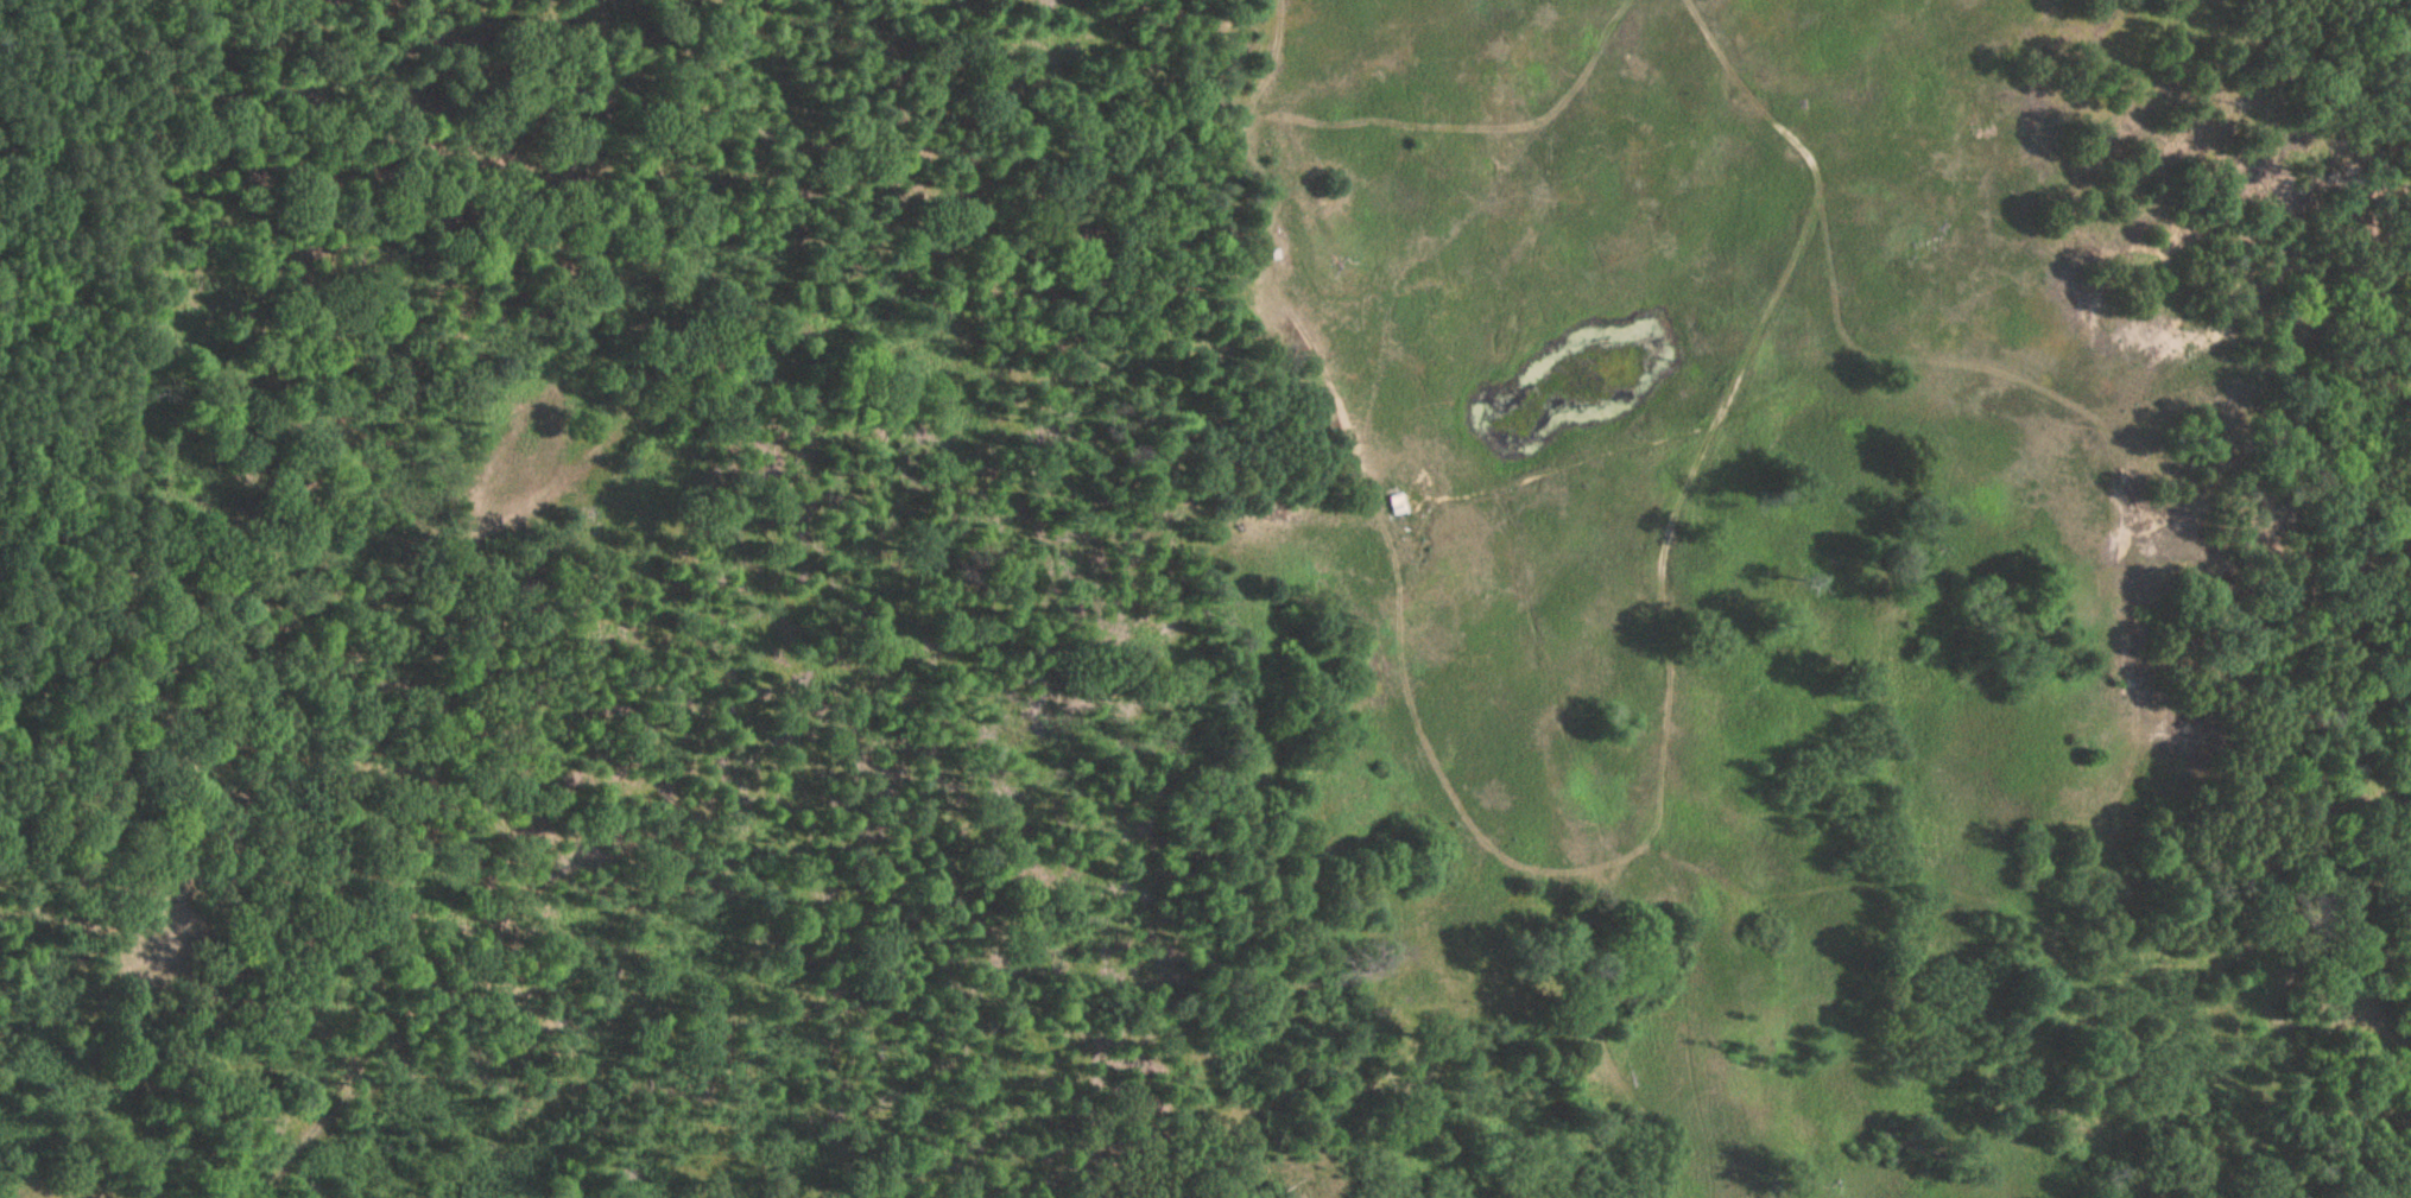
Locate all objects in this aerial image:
building: (1272, 252)
building: (1398, 501)

